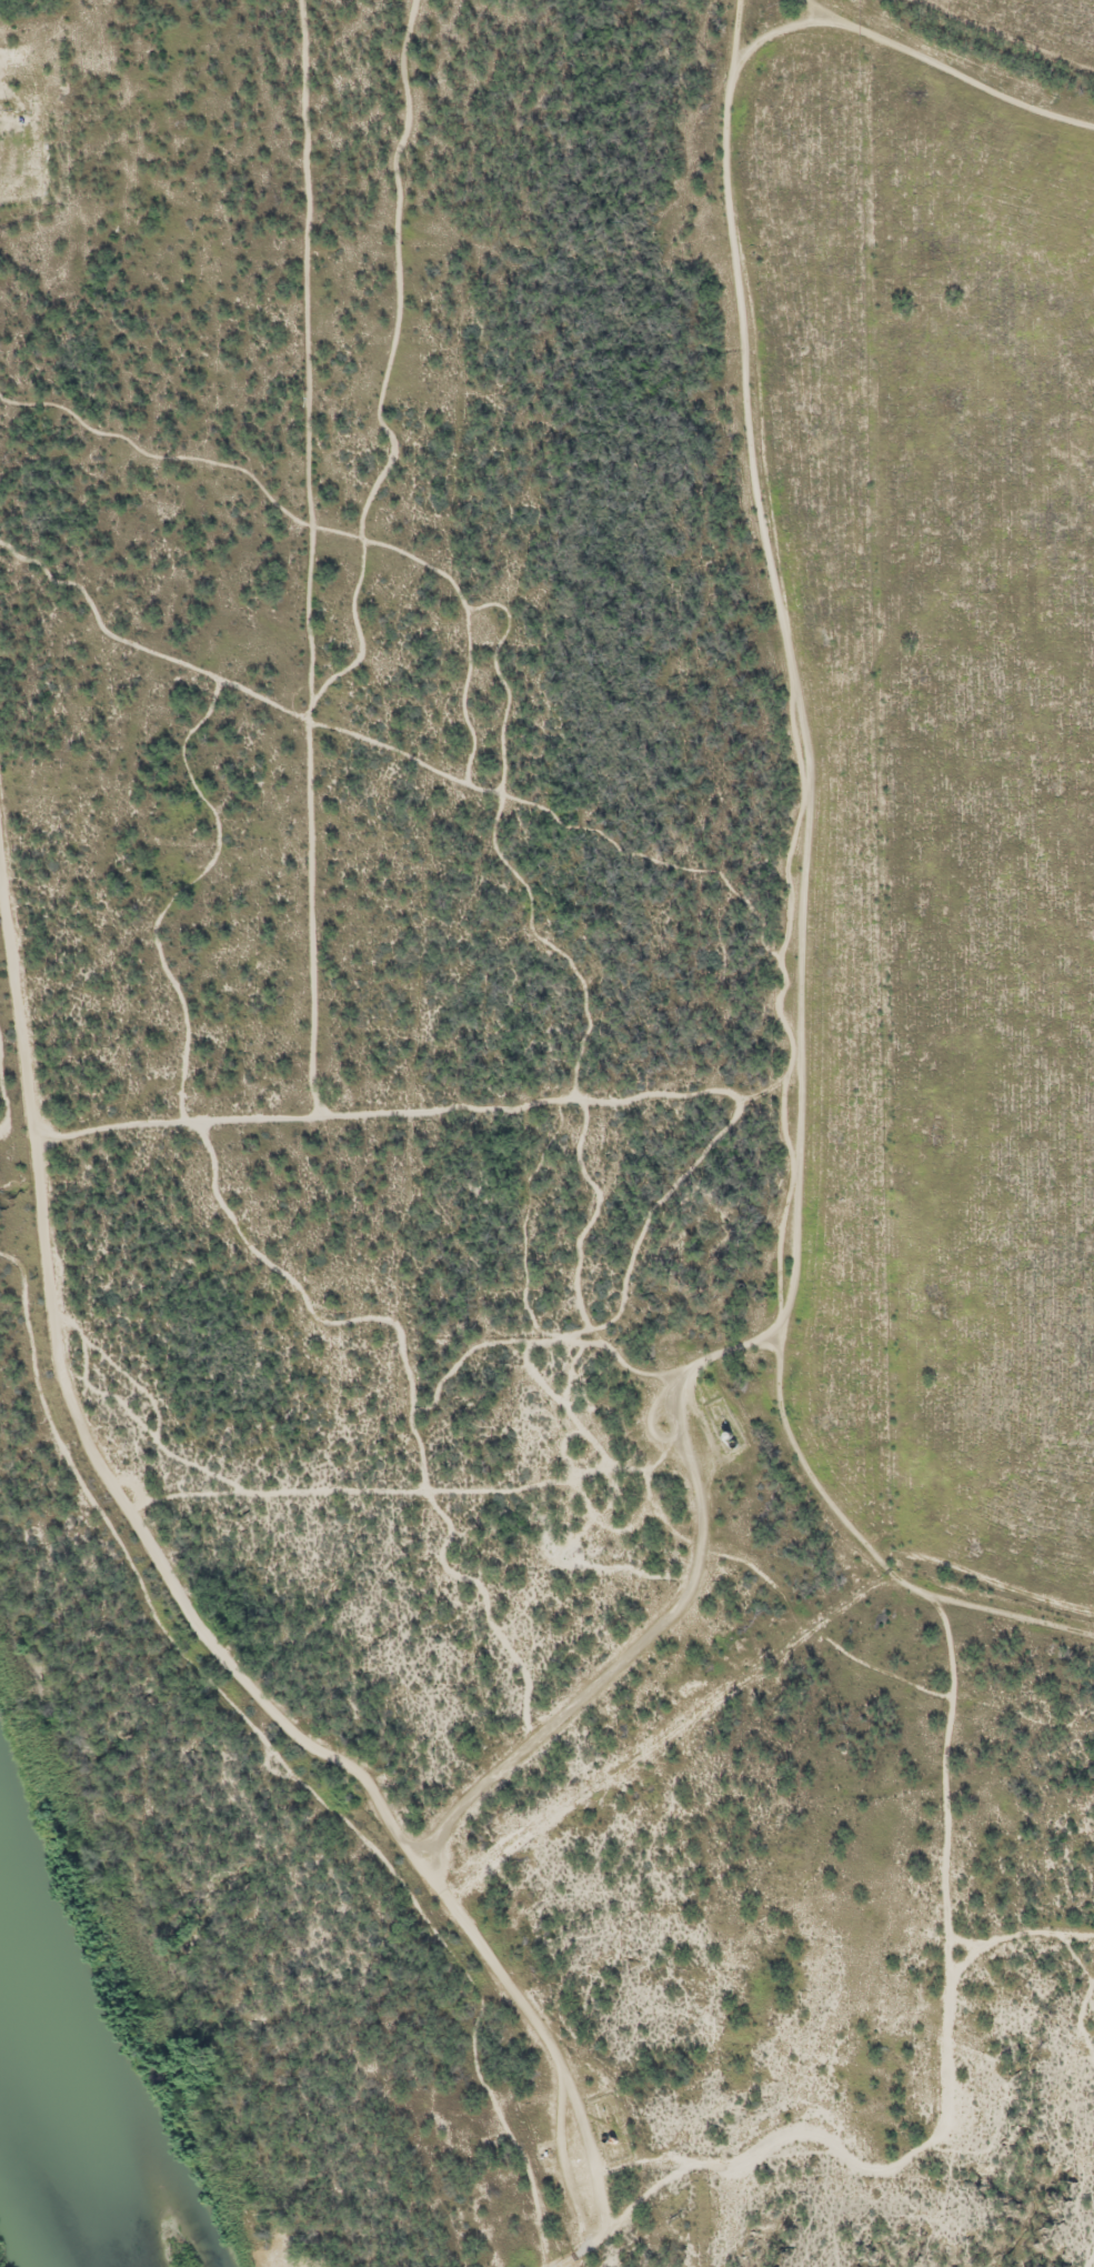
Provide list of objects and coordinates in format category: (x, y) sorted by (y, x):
road: (961, 69)
road: (754, 393)
road: (930, 583)
road: (785, 1292)
river: (64, 2084)

